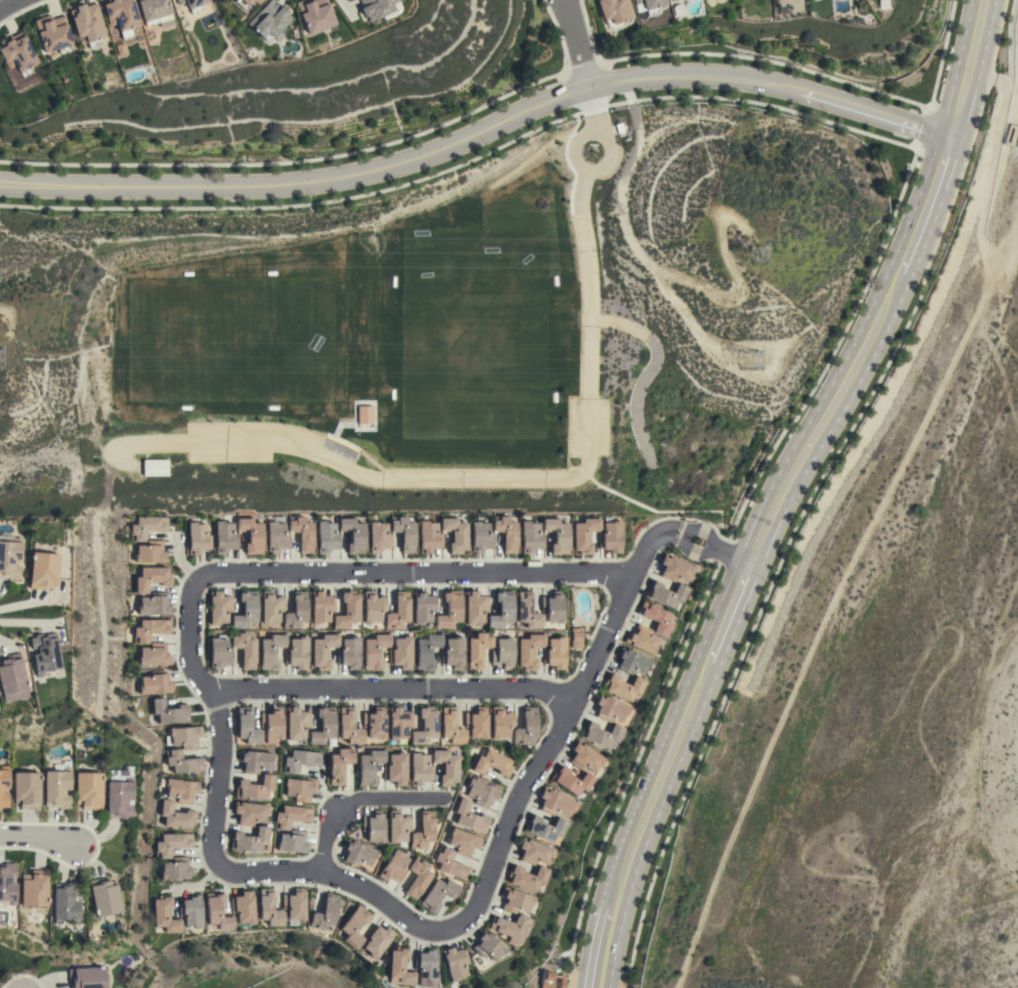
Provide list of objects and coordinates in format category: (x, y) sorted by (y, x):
building: (671, 0)
building: (781, 0)
building: (258, 1)
road: (6, 3)
building: (242, 3)
building: (192, 4)
building: (648, 5)
building: (379, 8)
building: (614, 11)
building: (155, 12)
building: (315, 14)
building: (121, 15)
building: (270, 20)
building: (87, 24)
building: (52, 34)
road: (578, 43)
building: (17, 55)
road: (940, 56)
road: (768, 64)
road: (966, 68)
road: (997, 80)
road: (591, 109)
road: (868, 112)
road: (999, 119)
road: (605, 140)
road: (401, 162)
road: (898, 199)
road: (922, 212)
road: (1004, 250)
power tower: (756, 254)
power tower: (753, 360)
building: (363, 415)
road: (818, 425)
road: (499, 480)
road: (812, 492)
building: (148, 527)
road: (691, 530)
building: (302, 533)
building: (405, 533)
building: (507, 533)
building: (251, 534)
building: (353, 534)
building: (455, 534)
building: (585, 534)
road: (683, 534)
building: (277, 535)
building: (558, 535)
building: (610, 536)
building: (225, 537)
building: (327, 537)
building: (379, 537)
building: (429, 537)
building: (481, 537)
building: (531, 537)
building: (198, 538)
road: (687, 545)
building: (152, 552)
road: (722, 552)
road: (641, 553)
building: (9, 556)
road: (731, 556)
building: (43, 567)
building: (675, 569)
road: (351, 572)
building: (152, 578)
building: (666, 593)
building: (154, 604)
building: (219, 607)
building: (271, 607)
building: (321, 607)
building: (373, 607)
building: (475, 607)
building: (553, 607)
building: (423, 608)
building: (502, 609)
building: (245, 610)
building: (347, 610)
building: (449, 610)
building: (296, 611)
building: (399, 611)
building: (528, 611)
building: (656, 618)
road: (722, 623)
building: (150, 629)
building: (576, 638)
building: (642, 639)
building: (244, 649)
building: (478, 649)
building: (323, 650)
building: (374, 650)
building: (427, 650)
building: (529, 650)
building: (270, 651)
building: (44, 653)
building: (219, 653)
building: (297, 653)
building: (349, 653)
building: (401, 653)
building: (453, 653)
building: (503, 653)
building: (555, 653)
road: (806, 654)
building: (155, 655)
building: (632, 662)
building: (11, 678)
building: (156, 683)
building: (623, 686)
road: (392, 688)
building: (610, 709)
building: (170, 712)
building: (476, 722)
building: (501, 722)
building: (296, 723)
building: (374, 723)
building: (399, 723)
building: (272, 724)
building: (323, 726)
building: (349, 726)
building: (246, 727)
building: (424, 727)
building: (451, 727)
building: (526, 728)
building: (601, 734)
building: (184, 736)
building: (585, 758)
building: (300, 760)
building: (255, 761)
building: (183, 762)
building: (491, 763)
building: (339, 765)
building: (369, 766)
building: (446, 766)
building: (395, 768)
building: (419, 769)
road: (631, 772)
building: (571, 780)
building: (4, 785)
road: (653, 785)
building: (255, 787)
building: (57, 788)
building: (27, 789)
building: (299, 789)
building: (88, 790)
building: (182, 790)
building: (481, 792)
building: (119, 793)
road: (355, 799)
building: (554, 803)
building: (249, 813)
building: (176, 815)
building: (291, 816)
building: (470, 817)
building: (373, 826)
building: (398, 826)
building: (545, 827)
building: (423, 830)
building: (249, 839)
road: (37, 841)
building: (292, 842)
building: (463, 842)
building: (172, 844)
building: (533, 852)
building: (358, 853)
building: (450, 864)
building: (394, 867)
building: (177, 869)
building: (417, 877)
building: (527, 877)
road: (717, 877)
building: (7, 883)
building: (33, 888)
building: (438, 894)
building: (104, 897)
building: (515, 900)
building: (65, 902)
building: (293, 906)
building: (243, 907)
building: (268, 908)
building: (191, 911)
building: (217, 911)
building: (324, 913)
building: (165, 915)
building: (354, 926)
building: (511, 928)
road: (430, 931)
road: (601, 939)
building: (376, 940)
building: (488, 946)
building: (455, 962)
building: (399, 967)
building: (426, 967)
building: (87, 977)
building: (549, 980)

